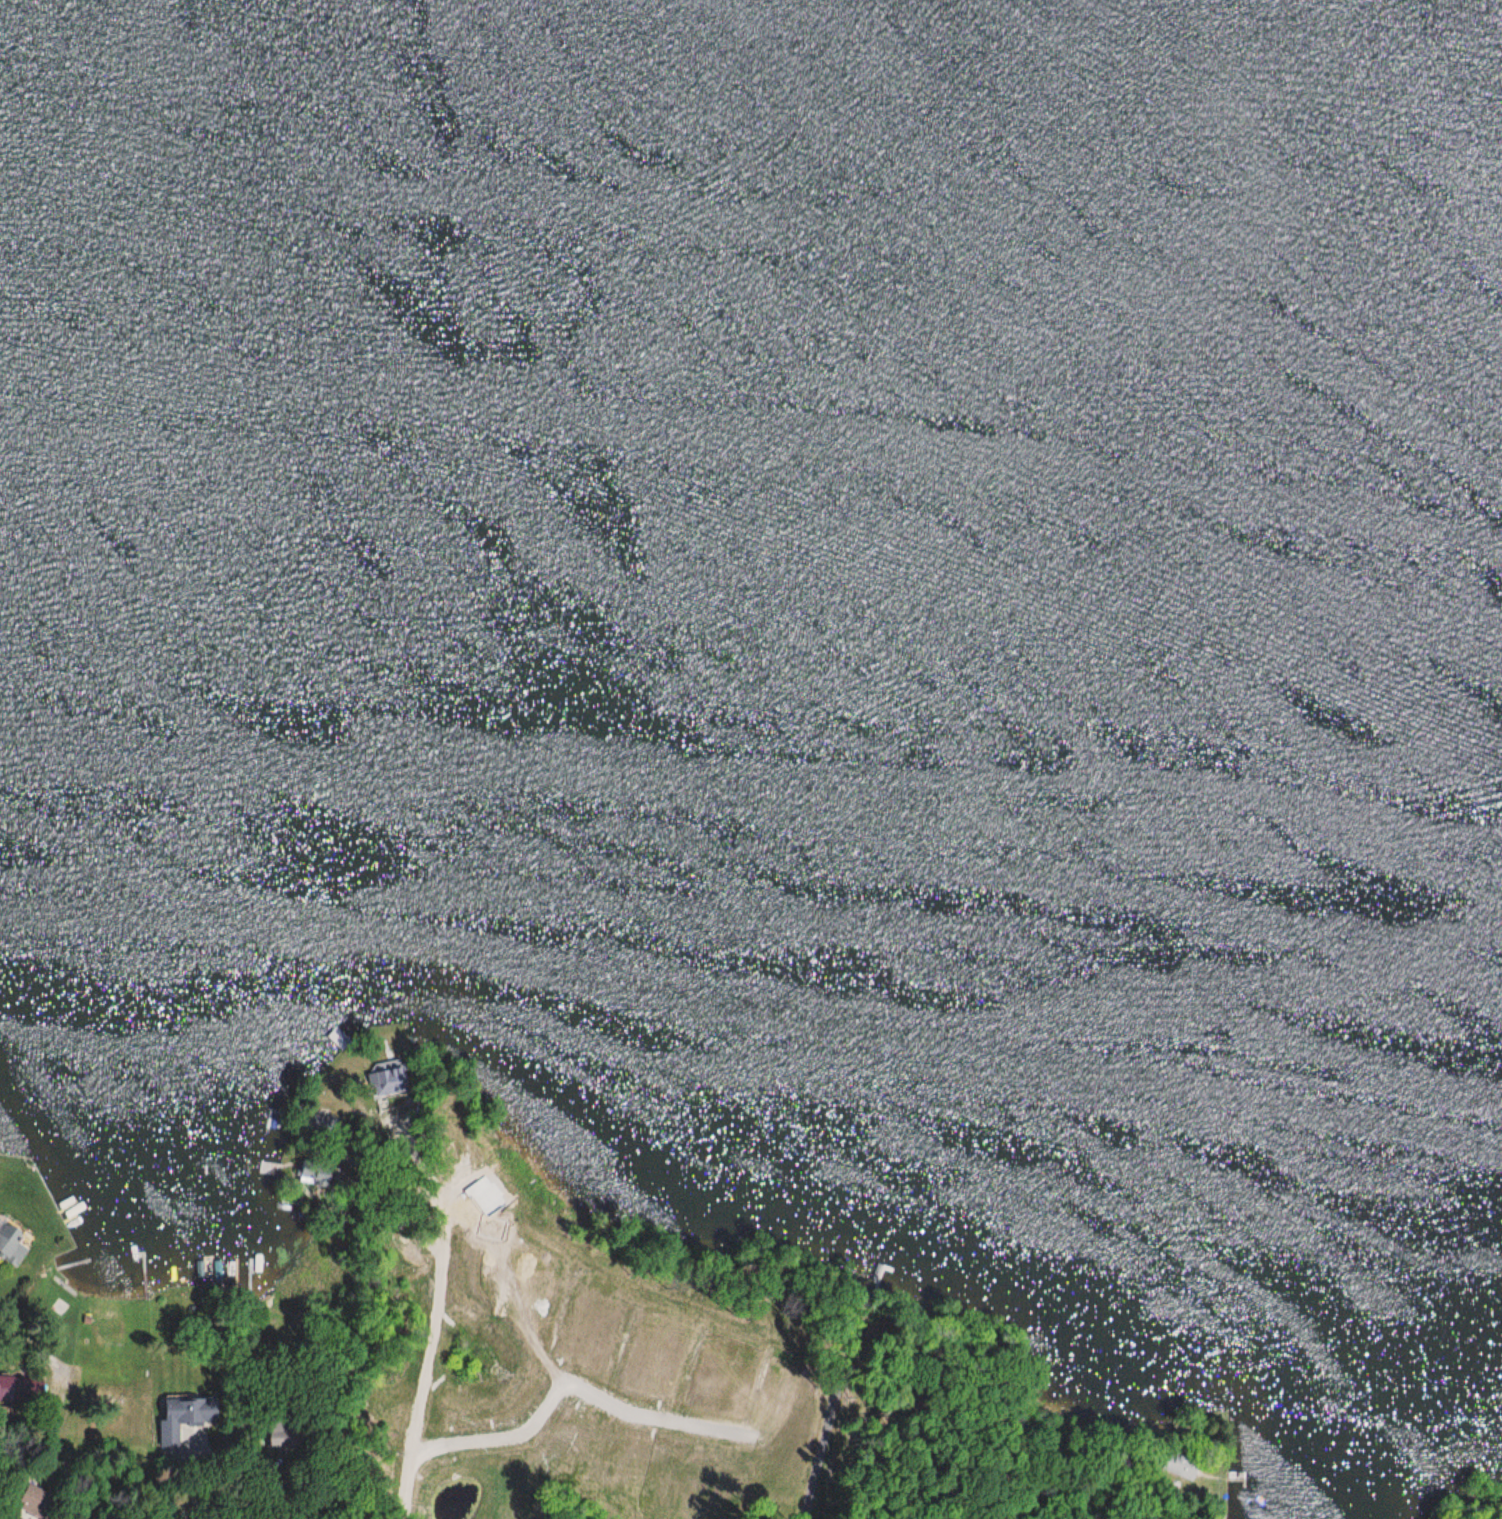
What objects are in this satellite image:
river: (751, 345)
building: (388, 1079)
building: (10, 1248)
road: (422, 1382)
road: (571, 1382)
building: (16, 1388)
building: (183, 1412)
building: (32, 1500)

